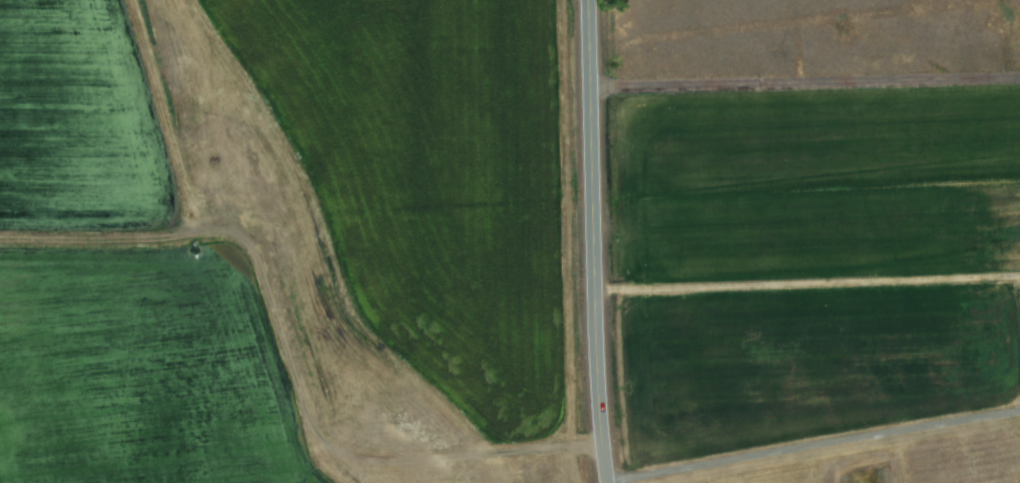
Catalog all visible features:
road: (591, 241)

